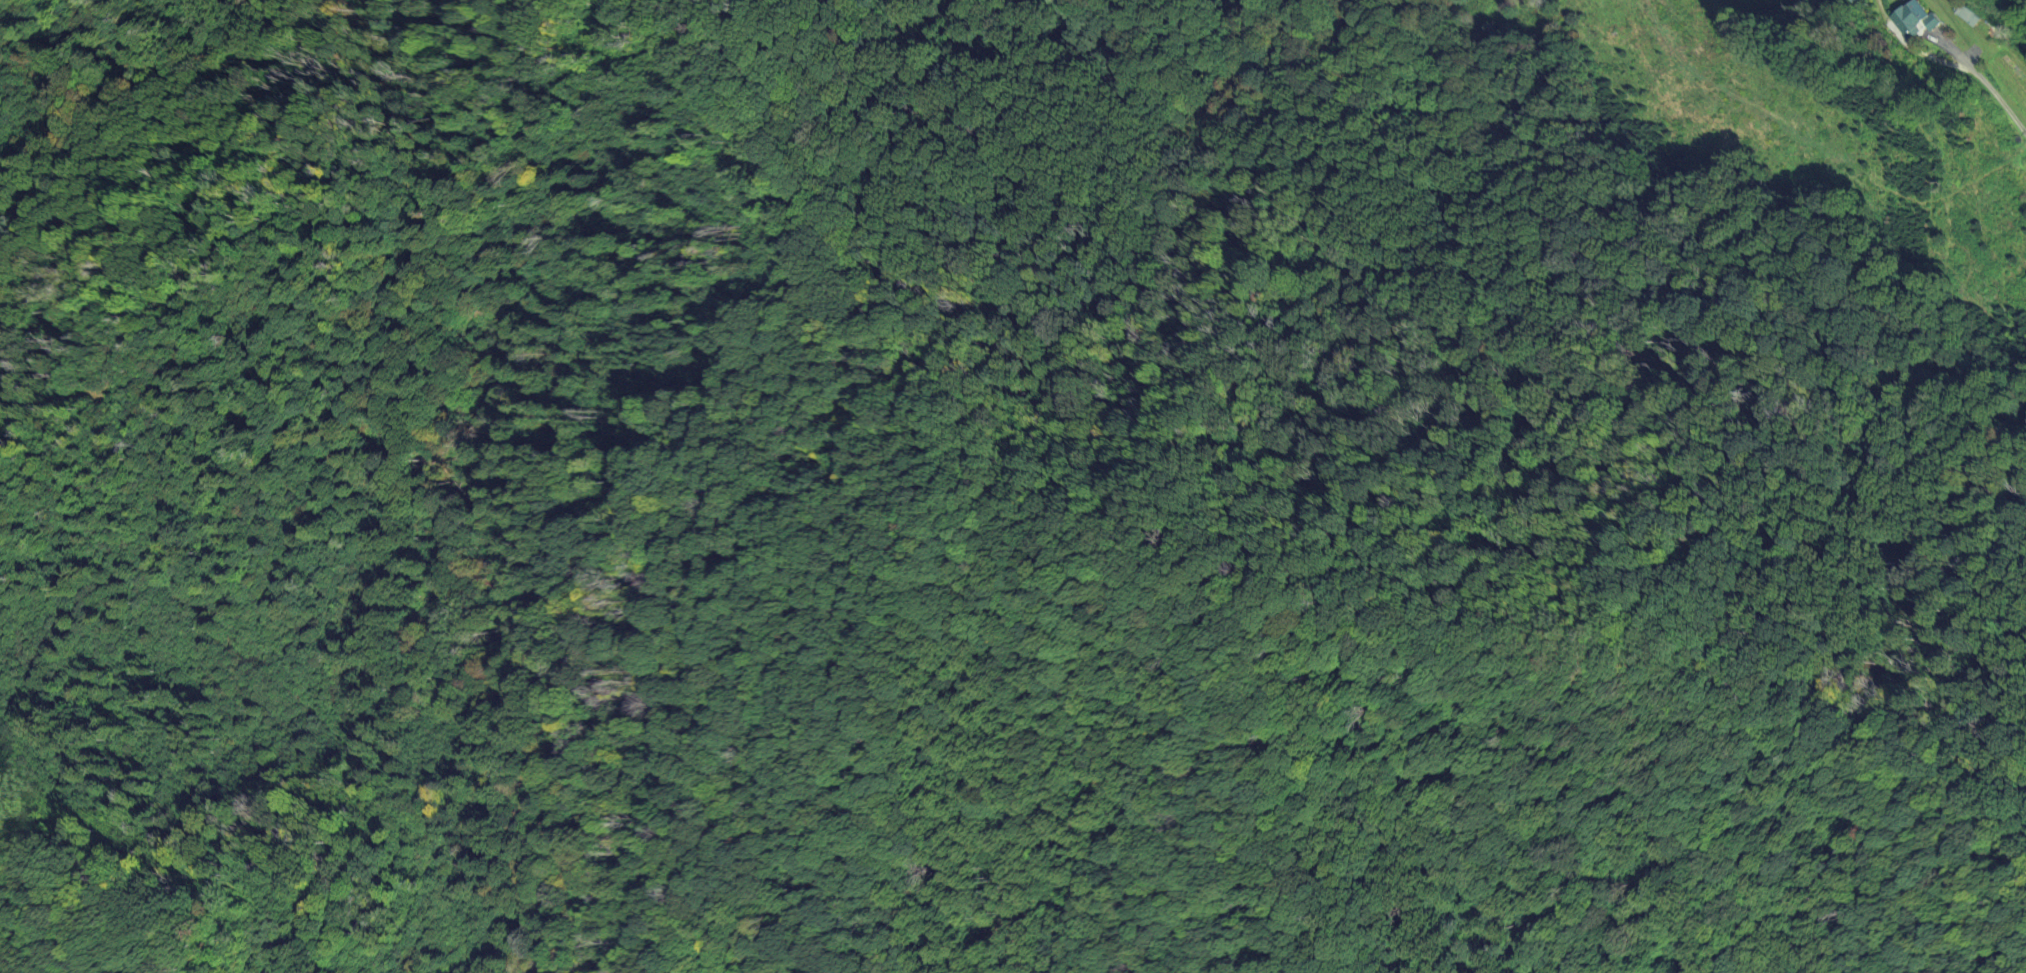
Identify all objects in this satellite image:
building: (1905, 22)

